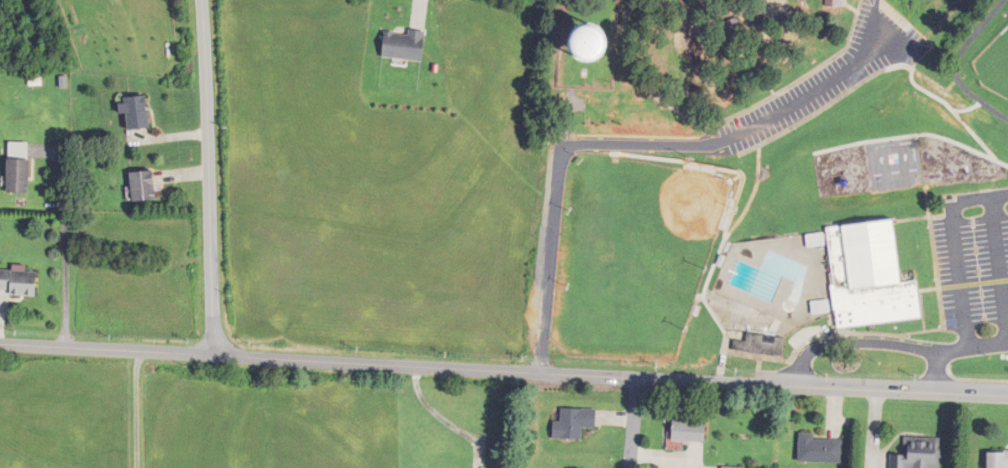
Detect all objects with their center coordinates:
building: (838, 3)
building: (612, 41)
building: (406, 46)
building: (138, 114)
road: (624, 143)
road: (210, 176)
building: (21, 177)
building: (144, 187)
park: (772, 190)
road: (65, 230)
road: (956, 248)
building: (874, 276)
building: (20, 283)
road: (855, 342)
building: (764, 345)
road: (987, 346)
road: (939, 357)
road: (503, 371)
road: (128, 407)
road: (632, 422)
building: (575, 423)
building: (689, 433)
building: (824, 450)
building: (922, 453)
building: (1000, 460)

